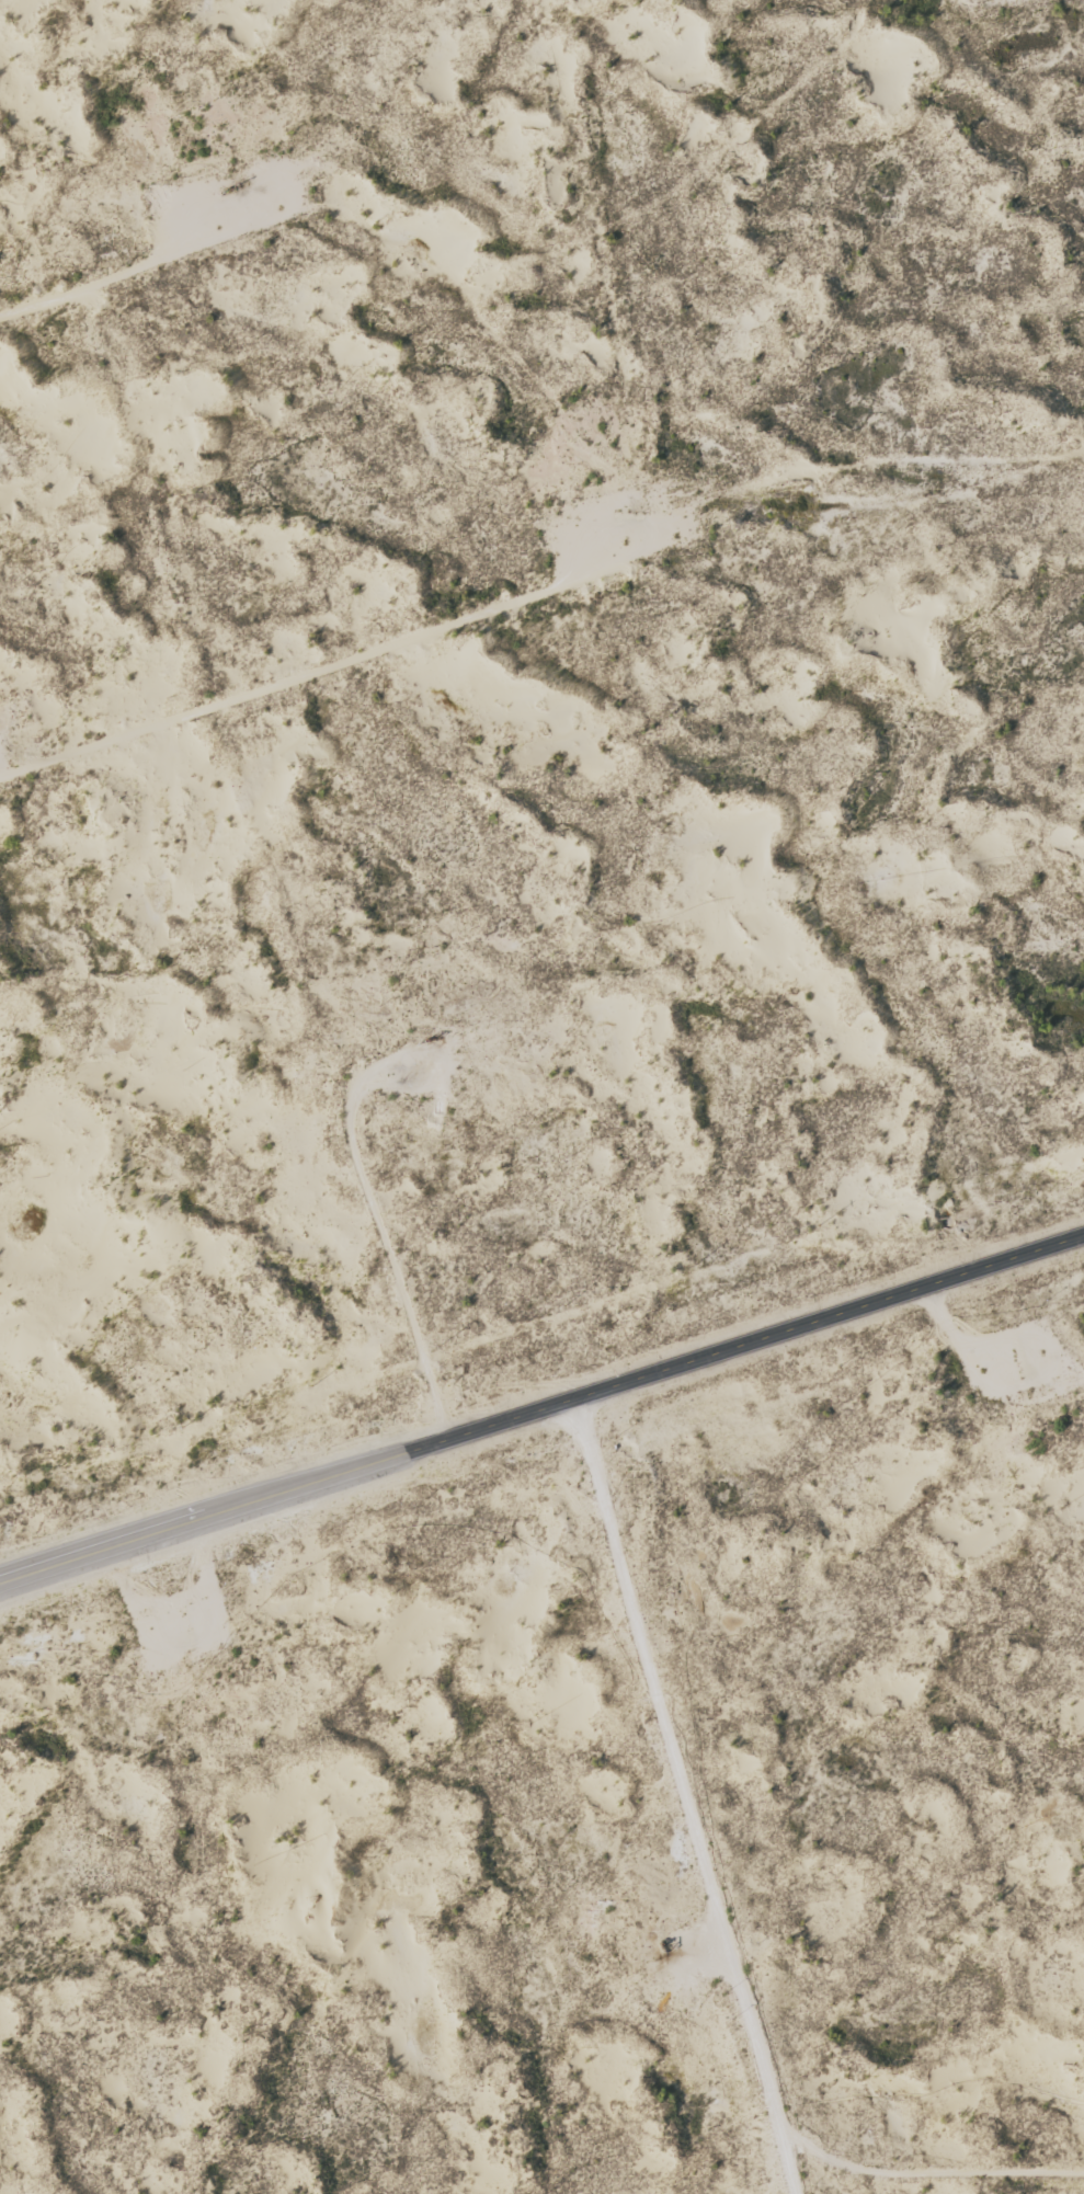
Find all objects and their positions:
road: (541, 1406)
road: (688, 1793)

